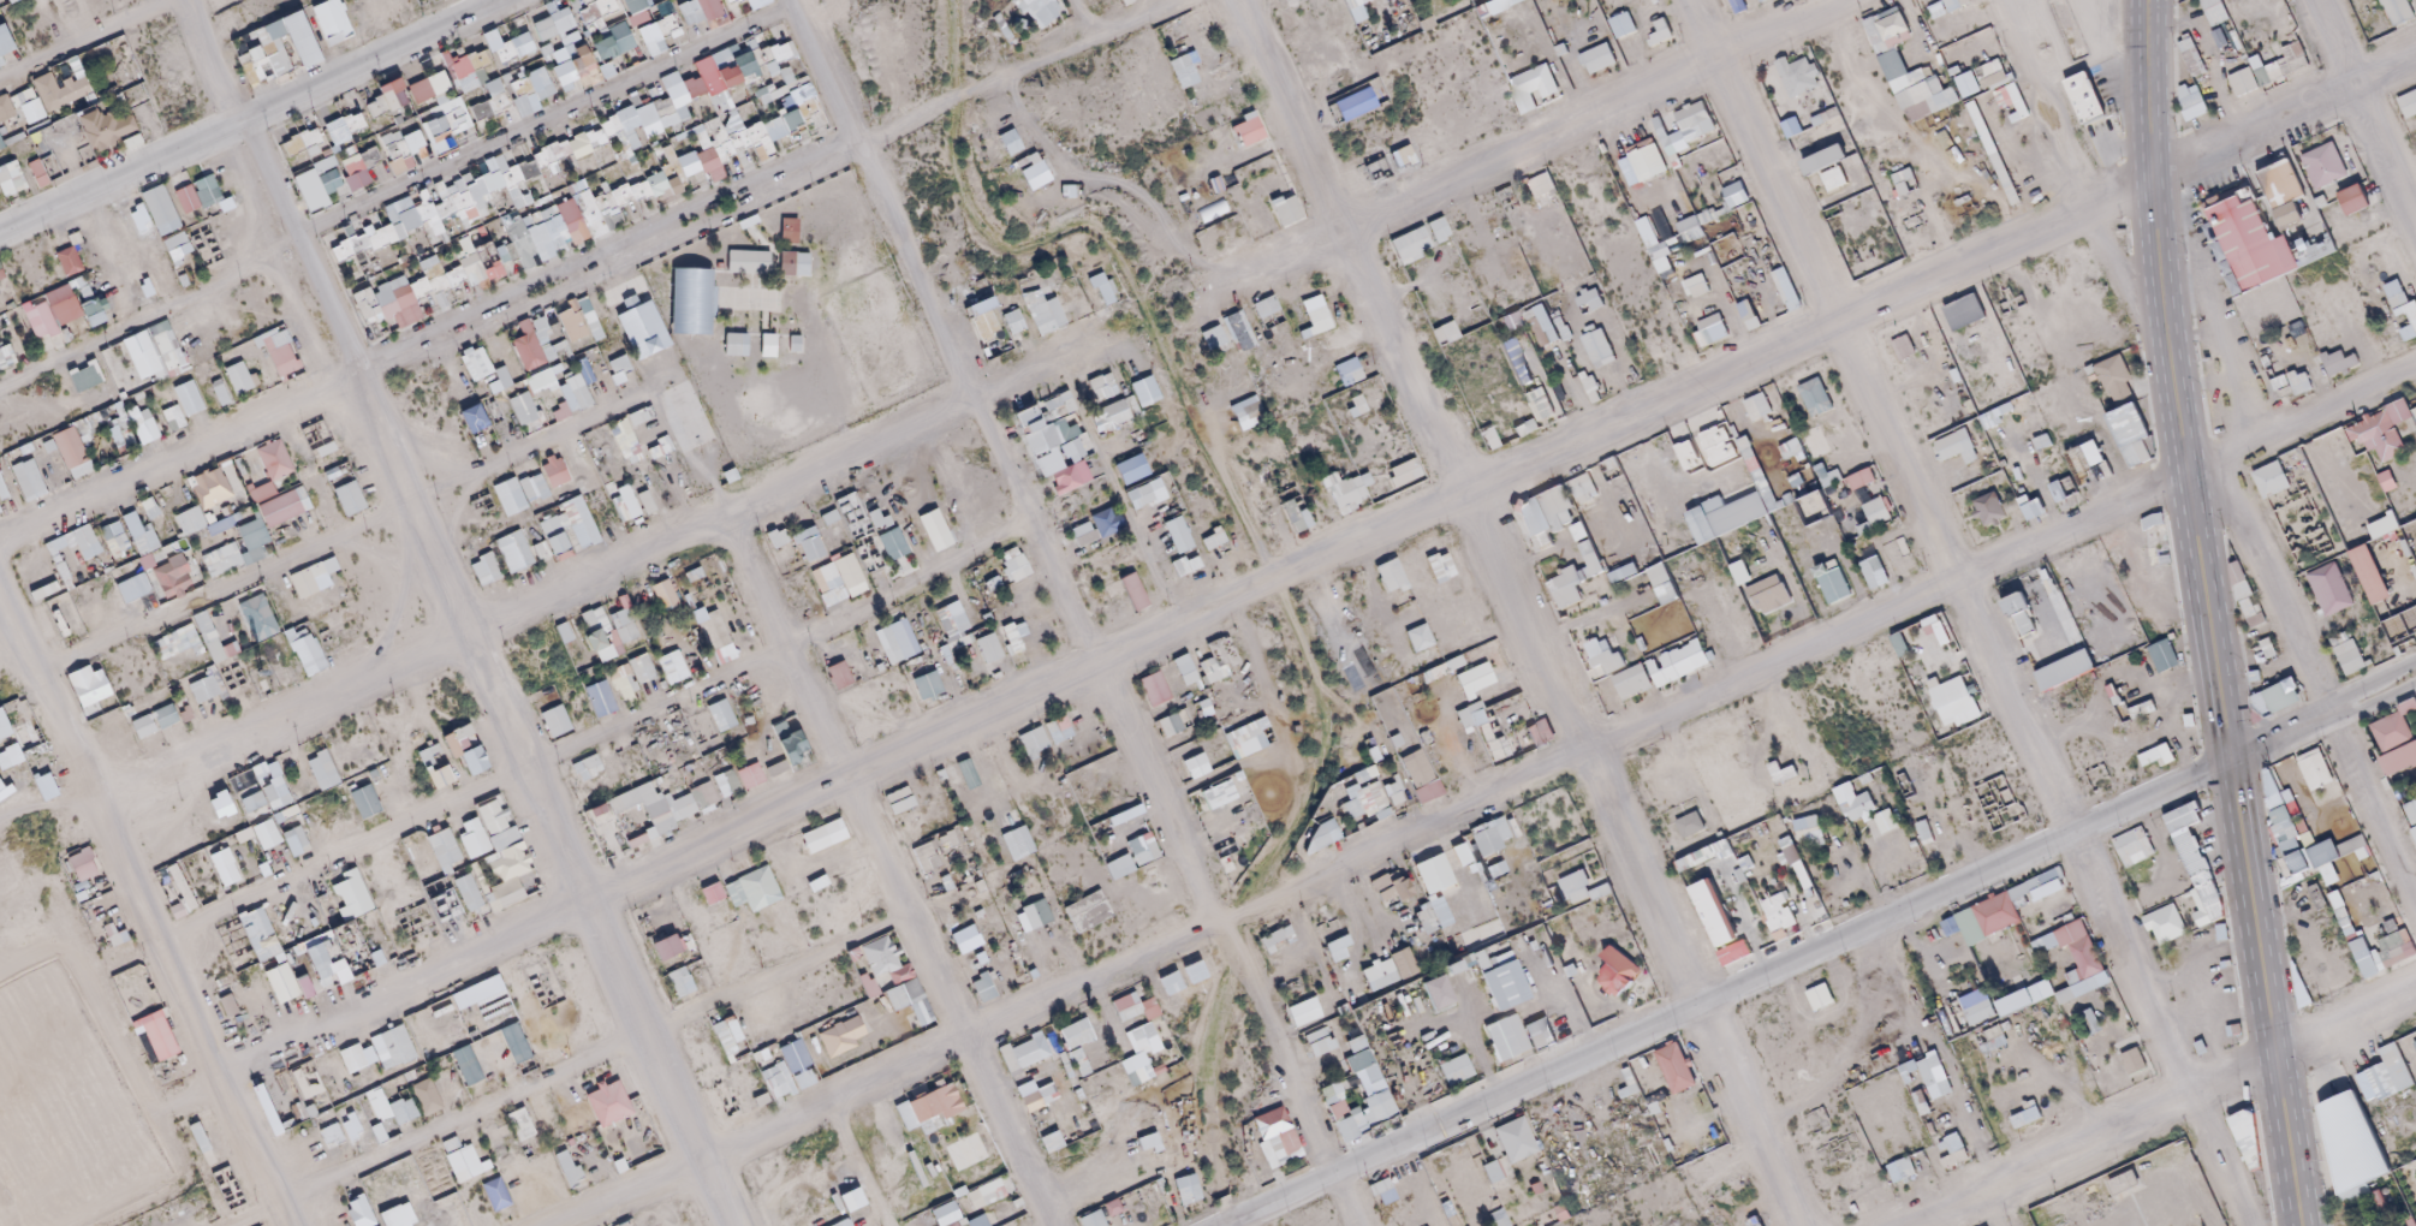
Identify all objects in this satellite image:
road: (2159, 1106)
power substation: (2140, 1192)

